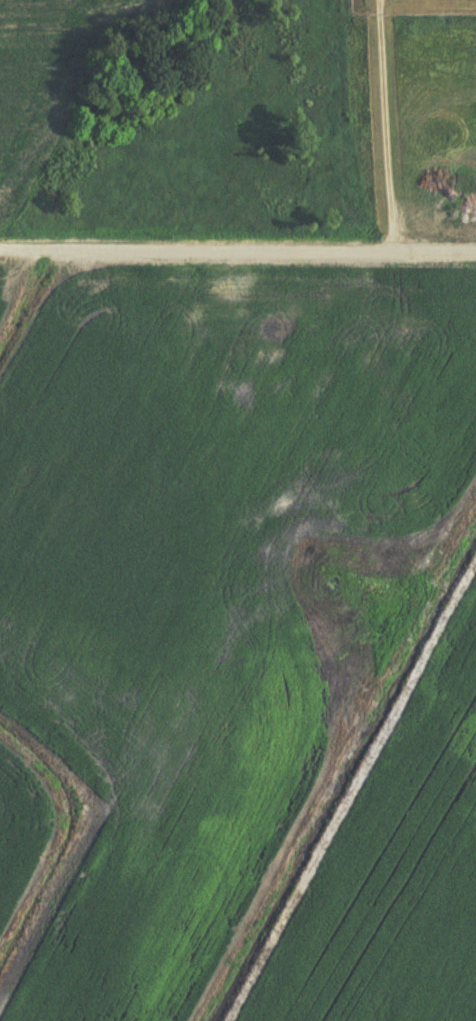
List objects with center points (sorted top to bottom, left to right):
road: (238, 252)

